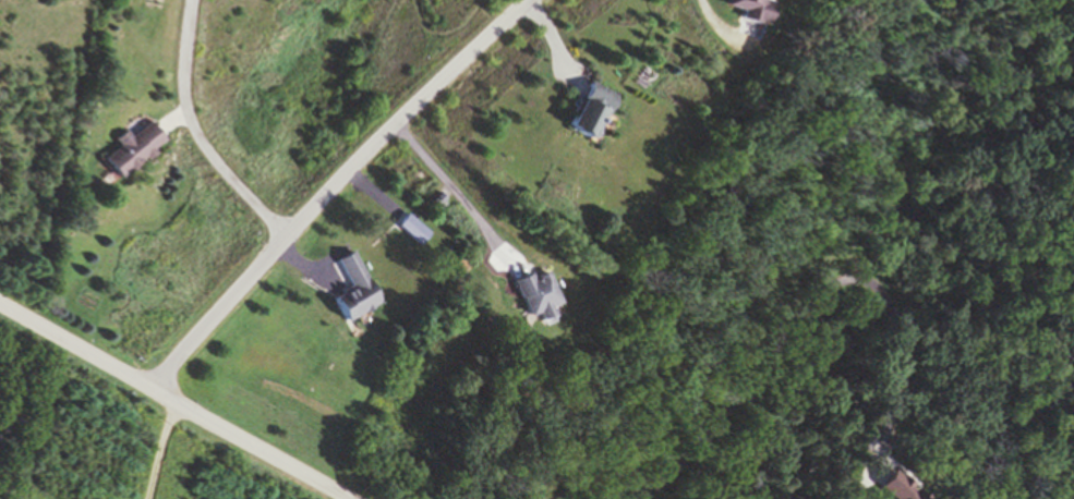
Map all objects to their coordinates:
building: (752, 9)
road: (719, 31)
building: (593, 108)
road: (195, 133)
building: (134, 148)
road: (328, 184)
road: (457, 194)
building: (439, 199)
building: (414, 227)
building: (358, 287)
building: (541, 294)
road: (771, 343)
road: (172, 401)
road: (162, 451)

